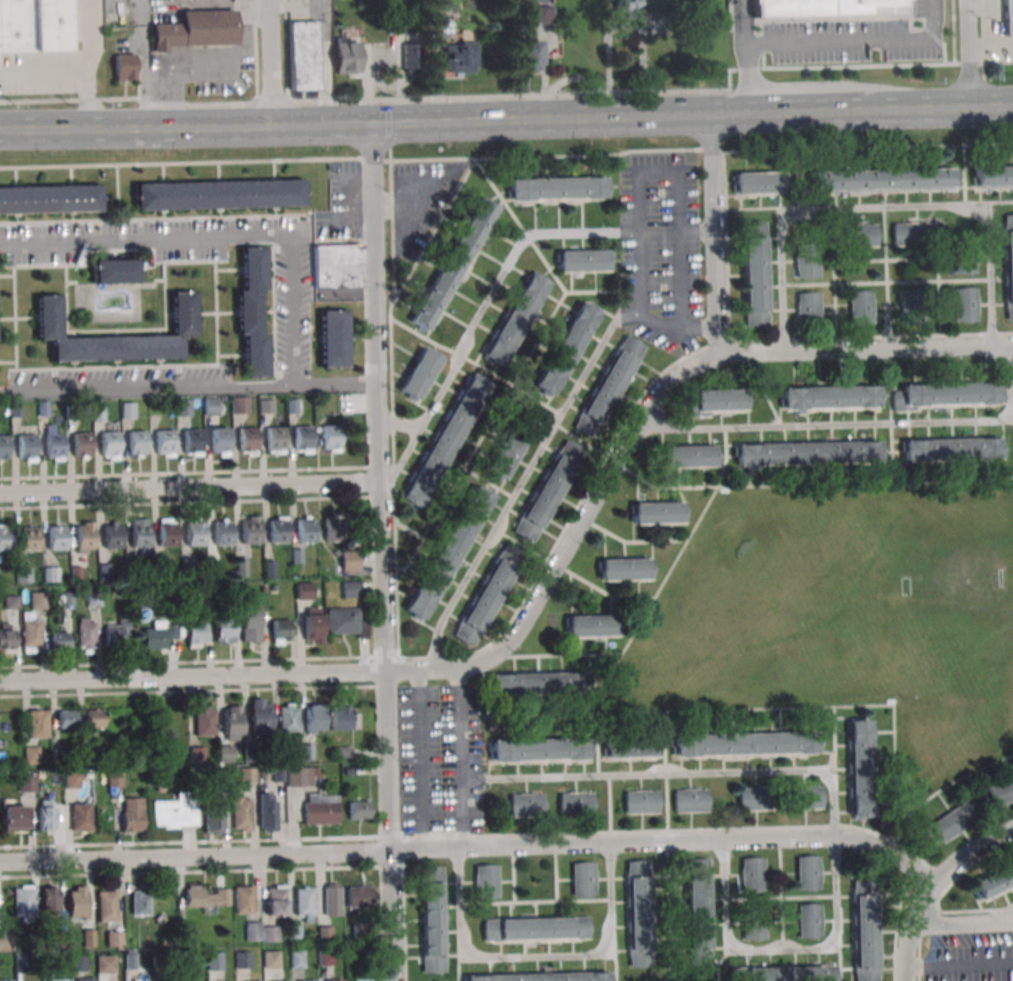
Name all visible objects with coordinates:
building: (826, 7)
building: (627, 8)
building: (535, 14)
building: (1008, 17)
road: (744, 21)
building: (393, 23)
building: (33, 25)
building: (195, 28)
road: (981, 31)
road: (952, 32)
road: (88, 36)
road: (323, 40)
road: (857, 42)
road: (285, 50)
road: (255, 51)
building: (303, 55)
building: (346, 55)
building: (528, 56)
road: (966, 56)
building: (459, 57)
building: (413, 58)
road: (202, 62)
road: (995, 62)
road: (967, 63)
road: (266, 65)
building: (124, 66)
road: (75, 73)
road: (747, 80)
road: (485, 97)
road: (506, 125)
building: (992, 176)
building: (882, 179)
building: (756, 183)
building: (558, 188)
building: (218, 194)
building: (50, 199)
road: (676, 203)
road: (881, 213)
building: (917, 233)
building: (859, 234)
road: (220, 236)
road: (713, 238)
building: (583, 260)
building: (453, 264)
building: (806, 264)
building: (963, 264)
building: (1007, 265)
building: (338, 266)
building: (114, 271)
building: (755, 275)
road: (637, 278)
road: (497, 282)
building: (964, 304)
building: (808, 306)
building: (911, 306)
building: (861, 307)
building: (252, 311)
building: (48, 315)
building: (514, 319)
building: (333, 338)
building: (566, 348)
building: (420, 374)
building: (608, 387)
road: (188, 393)
building: (950, 395)
building: (828, 398)
building: (718, 401)
building: (240, 404)
building: (266, 405)
building: (211, 406)
building: (183, 407)
building: (128, 410)
road: (642, 416)
road: (860, 424)
road: (397, 426)
building: (329, 437)
building: (301, 438)
building: (274, 439)
building: (191, 440)
building: (218, 440)
building: (247, 440)
building: (164, 442)
building: (444, 442)
building: (136, 443)
building: (108, 444)
building: (81, 445)
building: (26, 446)
building: (53, 446)
building: (3, 447)
building: (951, 450)
building: (506, 452)
building: (808, 454)
road: (403, 457)
building: (688, 457)
road: (531, 466)
road: (190, 486)
building: (548, 491)
building: (656, 514)
building: (332, 529)
building: (277, 531)
building: (304, 531)
building: (250, 532)
building: (222, 533)
building: (195, 534)
building: (166, 535)
building: (111, 536)
building: (139, 536)
building: (84, 537)
building: (55, 538)
building: (28, 539)
building: (5, 540)
building: (448, 553)
road: (383, 555)
building: (350, 561)
building: (623, 570)
building: (23, 574)
building: (51, 574)
building: (350, 588)
building: (304, 590)
building: (486, 596)
park: (843, 618)
building: (346, 622)
building: (251, 625)
building: (313, 625)
building: (590, 627)
building: (116, 631)
building: (224, 631)
building: (281, 631)
building: (31, 632)
building: (86, 633)
building: (196, 633)
building: (158, 634)
building: (7, 636)
building: (59, 640)
road: (435, 650)
road: (198, 662)
road: (193, 675)
building: (537, 684)
building: (260, 715)
building: (288, 716)
building: (94, 717)
building: (315, 717)
building: (340, 717)
building: (66, 718)
building: (204, 721)
building: (38, 723)
road: (460, 723)
building: (230, 732)
building: (744, 745)
building: (629, 748)
building: (539, 751)
building: (31, 754)
road: (418, 759)
building: (860, 768)
road: (690, 773)
building: (247, 775)
building: (301, 777)
building: (71, 780)
building: (27, 783)
building: (999, 793)
road: (457, 798)
building: (804, 798)
building: (755, 799)
building: (689, 801)
building: (641, 803)
building: (576, 805)
building: (526, 806)
building: (321, 808)
building: (358, 810)
building: (267, 811)
building: (174, 813)
building: (241, 813)
building: (46, 814)
building: (132, 814)
building: (81, 816)
building: (14, 817)
building: (213, 820)
building: (956, 820)
road: (667, 842)
road: (195, 855)
building: (809, 872)
building: (753, 874)
building: (583, 879)
building: (993, 879)
building: (487, 882)
road: (932, 887)
building: (206, 896)
building: (359, 896)
building: (48, 899)
building: (244, 899)
building: (275, 899)
building: (332, 900)
building: (23, 902)
building: (77, 902)
building: (304, 902)
building: (139, 903)
building: (106, 906)
building: (639, 913)
building: (701, 913)
road: (1005, 915)
building: (433, 919)
building: (810, 920)
road: (963, 922)
building: (536, 928)
building: (865, 929)
building: (754, 931)
building: (296, 934)
building: (114, 939)
building: (5, 941)
road: (781, 950)
building: (130, 959)
building: (242, 959)
building: (270, 959)
building: (297, 959)
building: (214, 961)
road: (533, 962)
building: (77, 963)
building: (105, 964)
road: (960, 969)
building: (792, 973)
building: (540, 977)
building: (6, 980)
building: (58, 980)
building: (86, 980)
building: (280, 980)
building: (306, 980)
building: (334, 980)
building: (361, 980)

